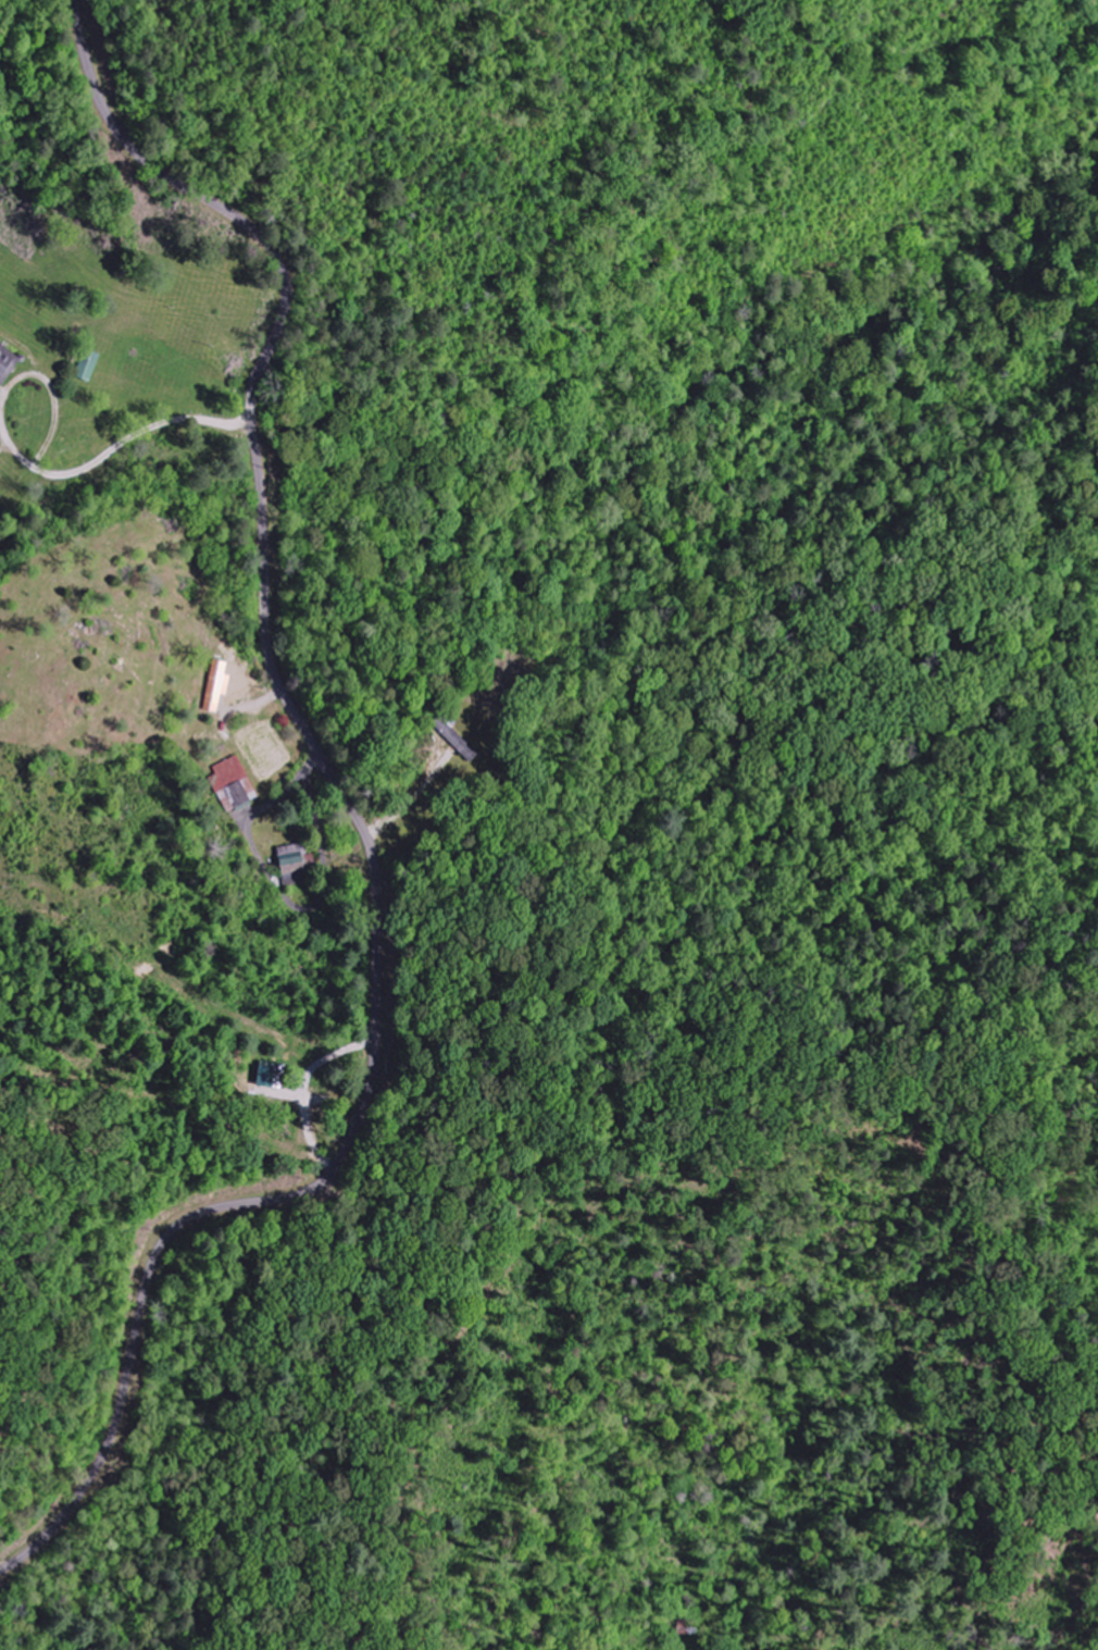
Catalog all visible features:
building: (5, 358)
building: (89, 365)
road: (357, 816)
building: (294, 863)
building: (270, 1077)
road: (733, 1102)

